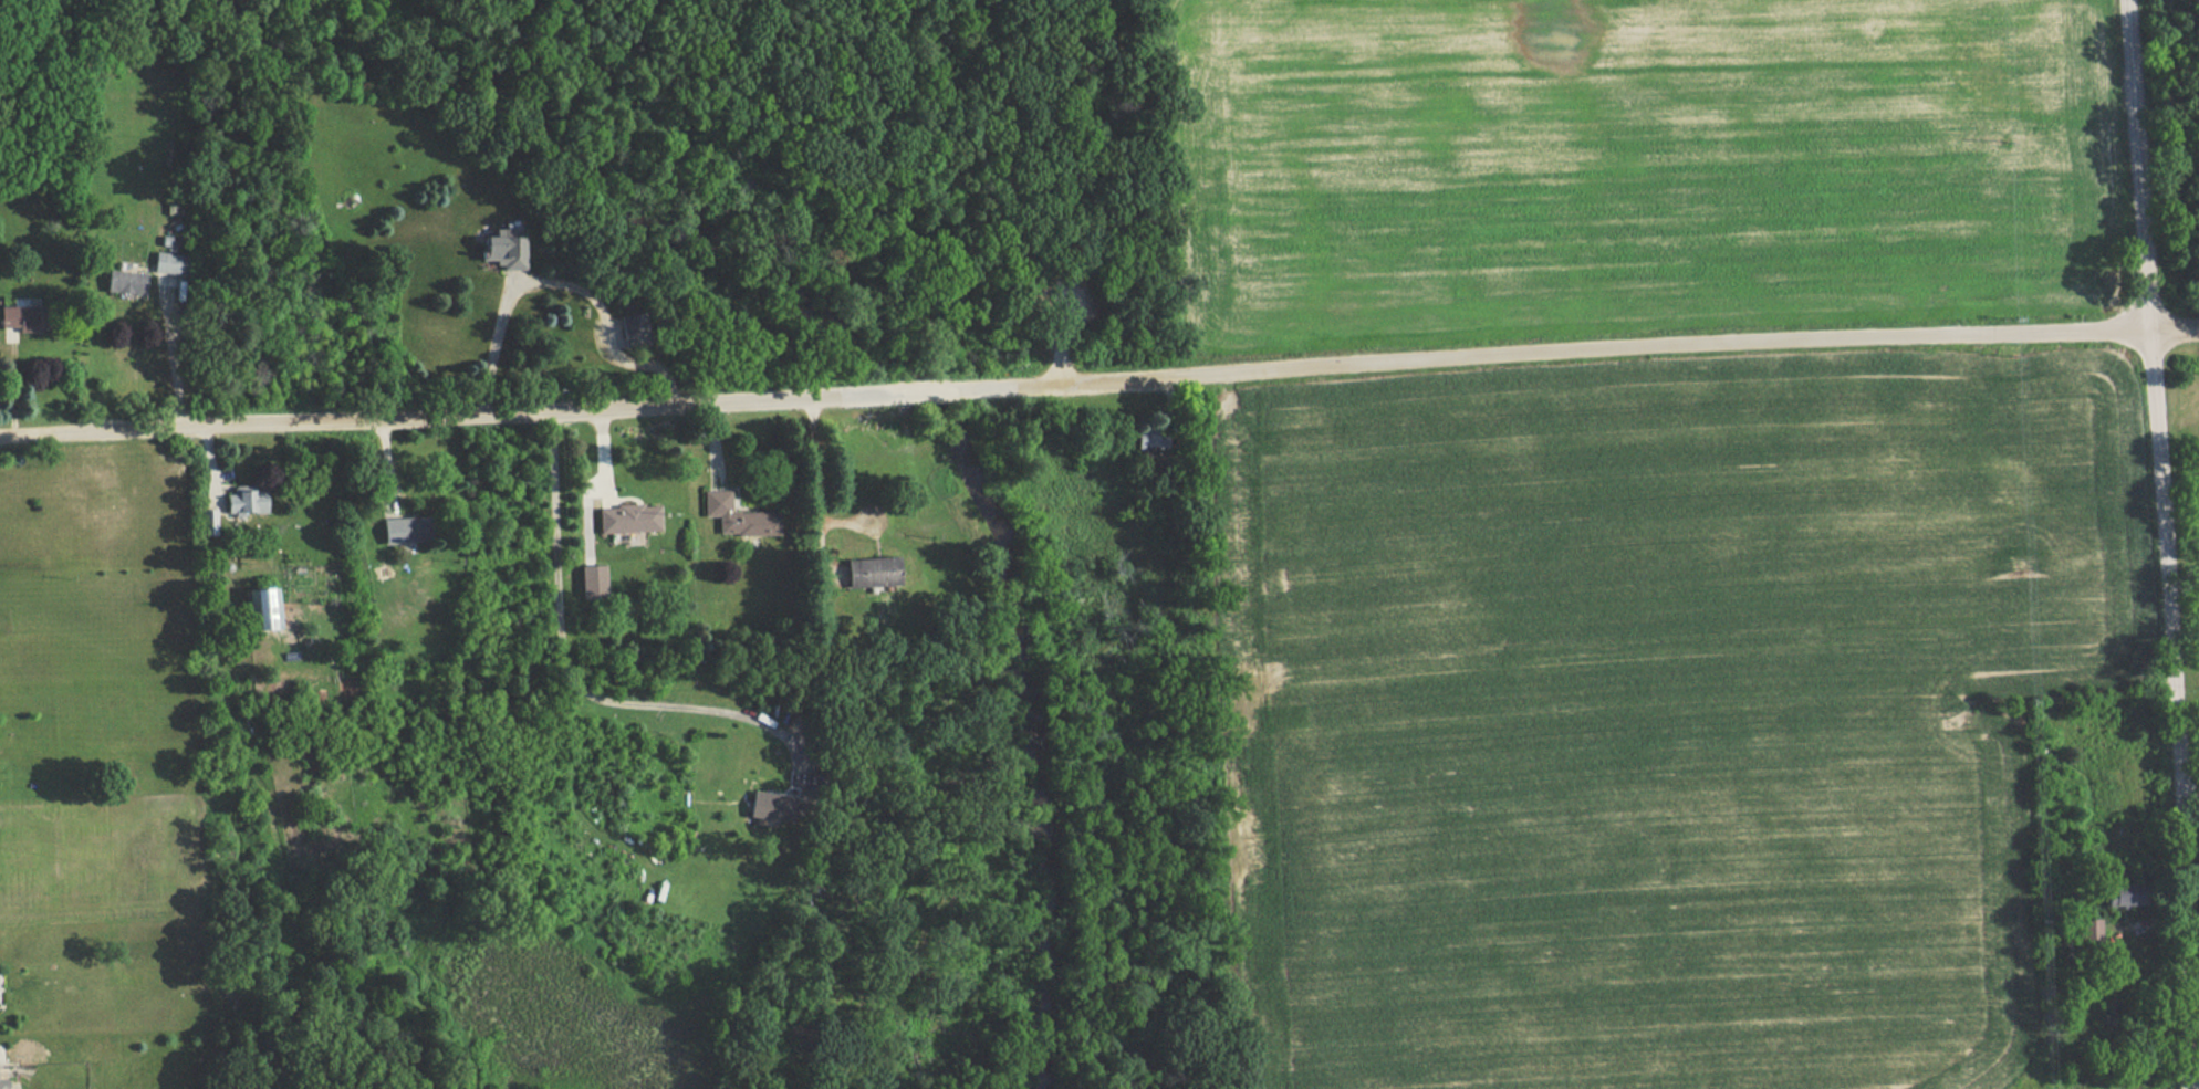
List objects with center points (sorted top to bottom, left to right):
road: (928, 157)
crop: (1634, 163)
building: (504, 251)
building: (170, 265)
building: (126, 285)
parking lot: (1070, 301)
building: (25, 322)
road: (603, 324)
road: (1069, 325)
building: (635, 333)
road: (612, 336)
road: (494, 343)
road: (1580, 346)
road: (176, 365)
road: (1226, 385)
road: (12, 391)
road: (927, 391)
road: (864, 395)
road: (418, 415)
road: (1170, 428)
building: (1148, 439)
road: (712, 446)
road: (604, 457)
road: (210, 467)
road: (387, 467)
road: (810, 489)
building: (247, 503)
road: (590, 516)
building: (740, 519)
building: (630, 521)
building: (208, 524)
building: (408, 532)
road: (2164, 544)
road: (813, 551)
building: (874, 575)
road: (830, 578)
building: (594, 584)
building: (263, 612)
road: (575, 684)
crop: (1658, 709)
road: (2188, 789)
building: (809, 804)
building: (773, 810)
building: (2111, 894)
building: (4, 1085)

